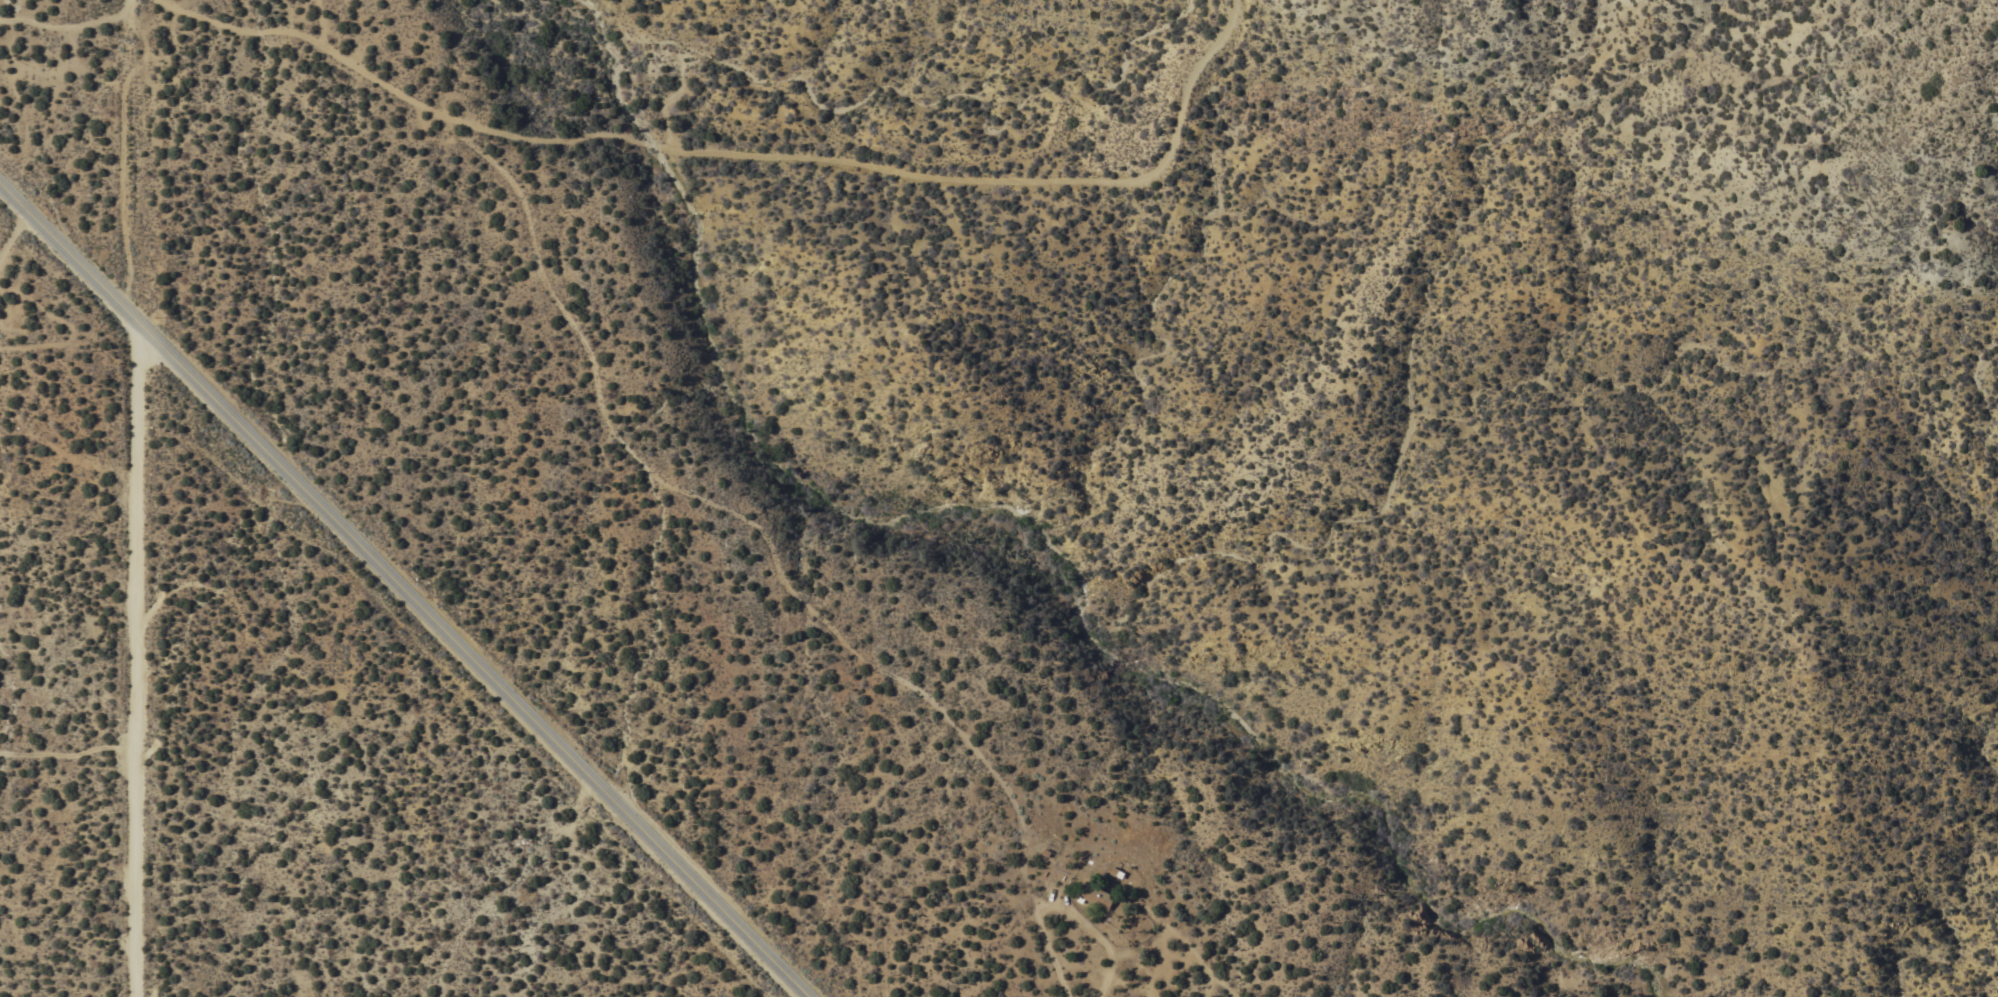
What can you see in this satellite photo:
road: (253, 26)
road: (735, 216)
road: (15, 234)
road: (405, 588)
road: (137, 657)
road: (69, 757)
building: (1097, 893)
road: (1062, 902)

